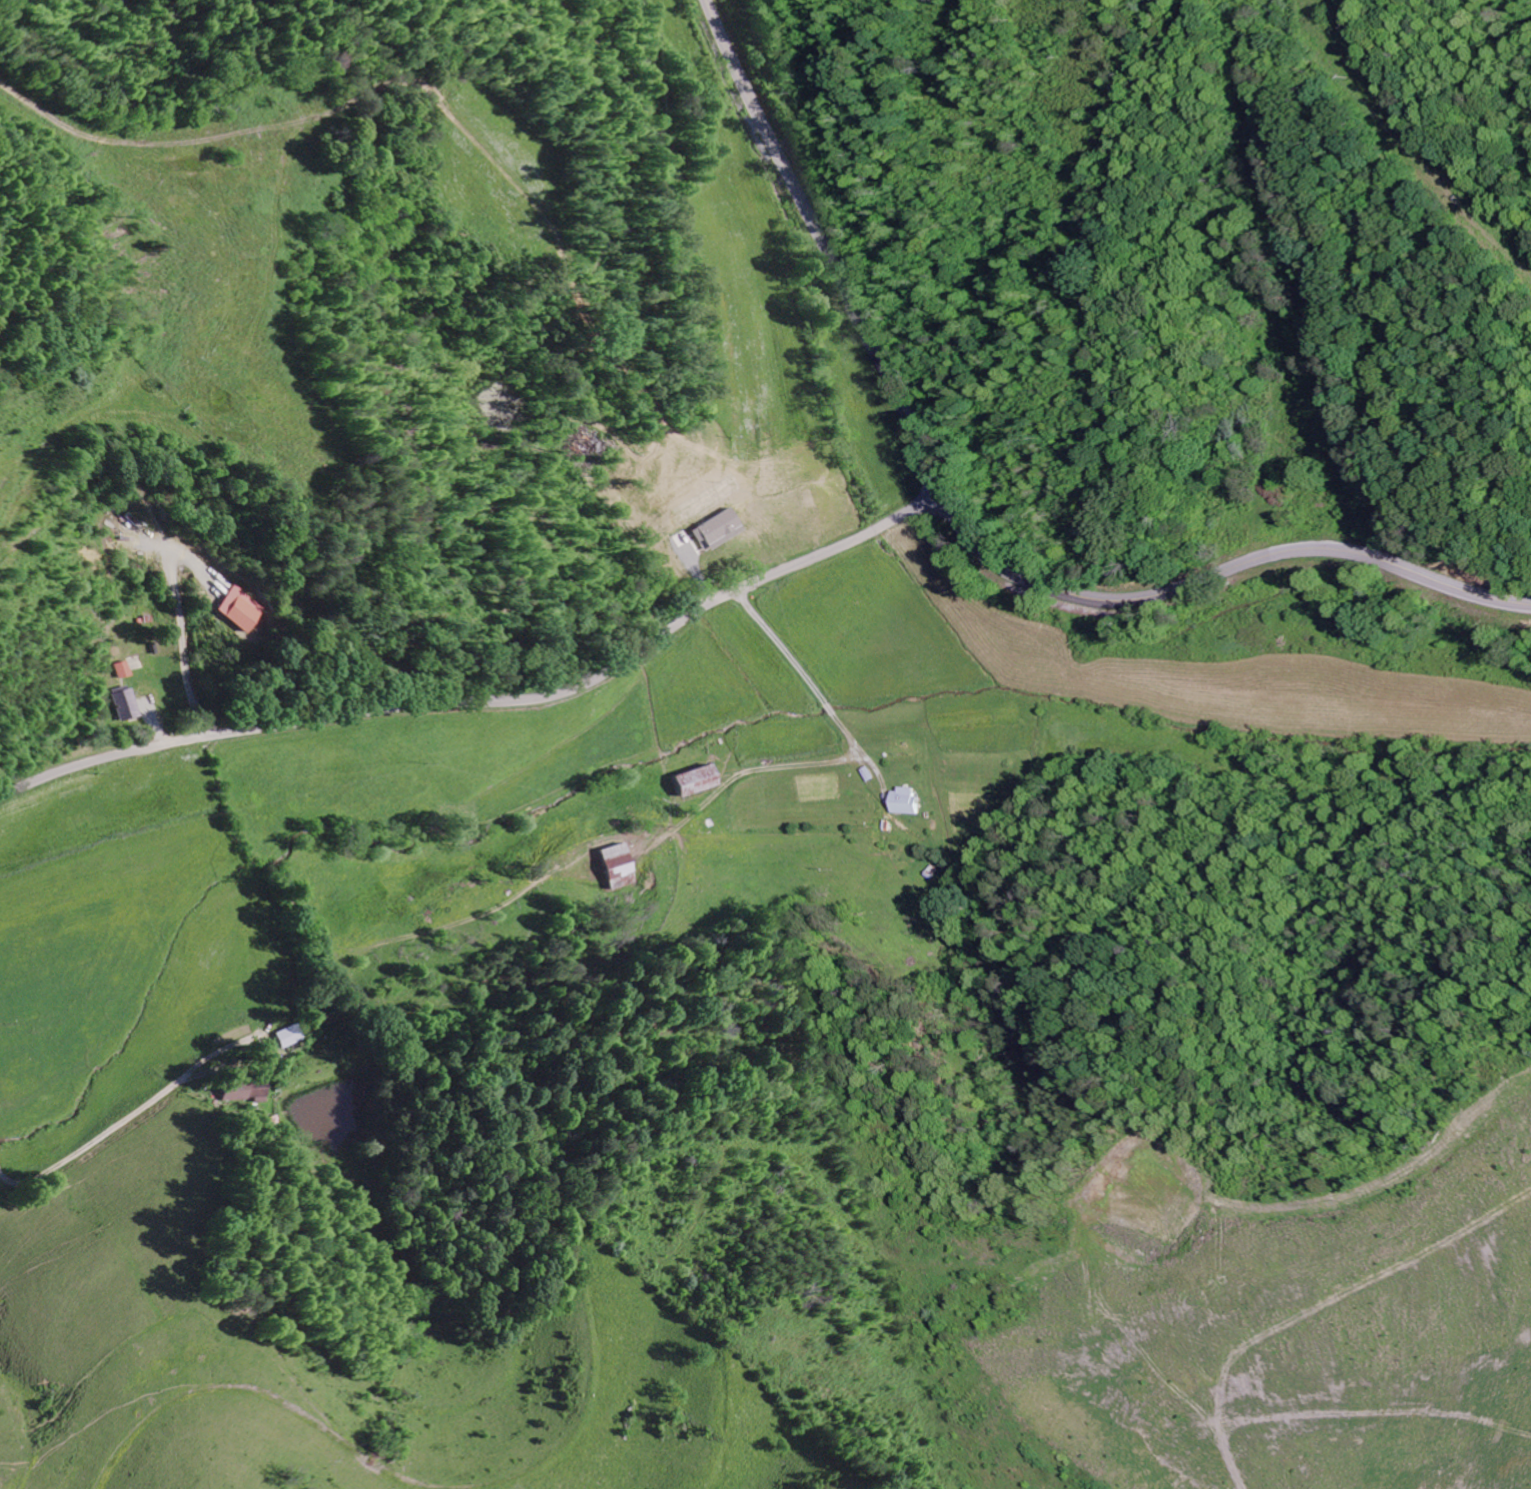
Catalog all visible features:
building: (714, 530)
road: (970, 533)
building: (233, 610)
building: (120, 670)
road: (490, 699)
building: (122, 705)
road: (785, 715)
building: (691, 780)
building: (901, 800)
building: (609, 860)
building: (288, 1036)
building: (241, 1090)

